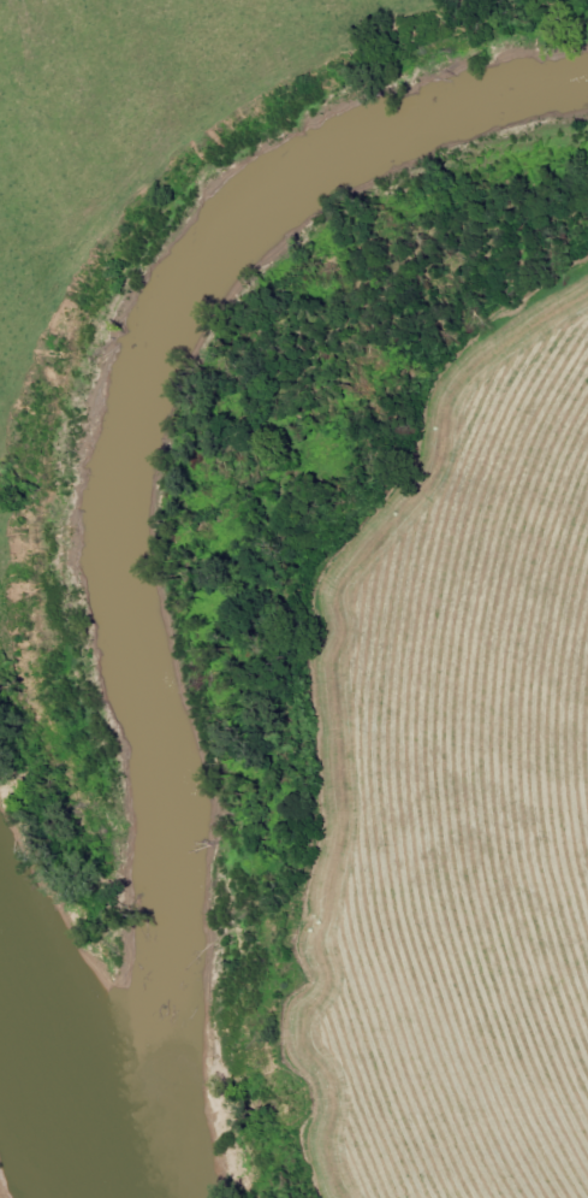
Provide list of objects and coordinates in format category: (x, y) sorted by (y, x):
river: (143, 491)
river: (65, 1017)
river: (147, 1170)

